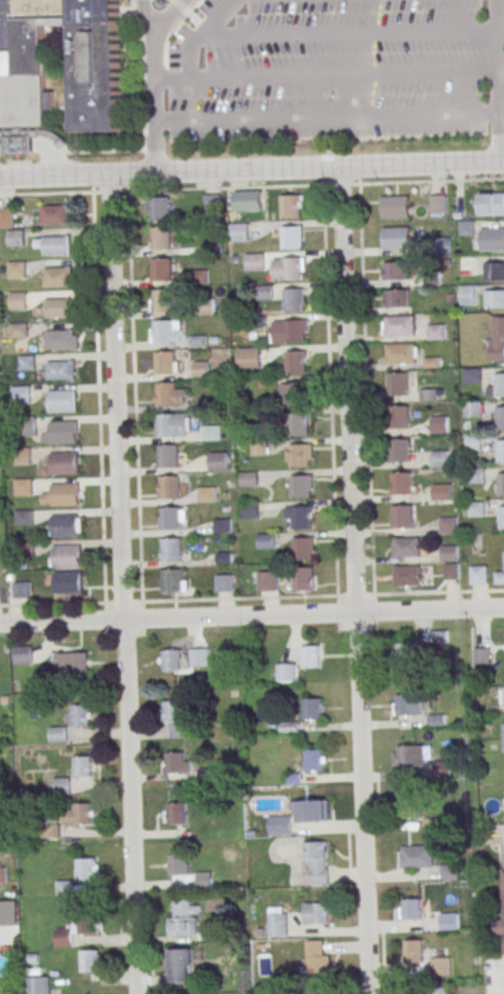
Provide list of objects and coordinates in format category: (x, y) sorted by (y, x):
building: (137, 1)
road: (148, 17)
road: (351, 29)
road: (192, 46)
road: (344, 73)
building: (97, 77)
road: (154, 80)
road: (499, 80)
road: (327, 117)
road: (18, 144)
building: (19, 144)
road: (2, 146)
road: (52, 153)
road: (252, 169)
road: (341, 183)
road: (225, 187)
road: (110, 191)
road: (46, 193)
building: (212, 202)
building: (239, 202)
building: (439, 203)
building: (492, 204)
building: (291, 206)
building: (396, 207)
building: (160, 208)
building: (55, 214)
building: (7, 218)
building: (467, 228)
building: (240, 231)
building: (161, 237)
building: (398, 237)
building: (16, 238)
building: (293, 238)
building: (493, 239)
building: (57, 245)
building: (442, 245)
building: (255, 261)
building: (468, 265)
building: (162, 268)
building: (290, 269)
building: (17, 270)
building: (397, 270)
building: (494, 271)
building: (58, 277)
building: (199, 277)
building: (266, 292)
building: (469, 295)
building: (396, 298)
building: (494, 299)
building: (18, 300)
building: (163, 300)
building: (295, 300)
building: (207, 306)
building: (58, 307)
building: (401, 326)
building: (19, 330)
building: (164, 331)
building: (297, 332)
building: (436, 332)
building: (496, 338)
building: (59, 339)
building: (198, 340)
building: (401, 353)
building: (250, 357)
building: (166, 362)
building: (28, 363)
building: (297, 363)
building: (202, 369)
building: (61, 370)
building: (473, 376)
building: (398, 384)
building: (500, 385)
building: (166, 393)
building: (297, 393)
building: (429, 394)
building: (22, 395)
building: (61, 400)
building: (474, 409)
building: (399, 417)
building: (500, 418)
building: (167, 424)
building: (440, 424)
building: (299, 425)
building: (27, 426)
building: (63, 431)
building: (212, 432)
building: (475, 441)
building: (260, 447)
building: (400, 450)
building: (501, 451)
building: (23, 455)
building: (169, 456)
building: (300, 456)
building: (441, 458)
building: (218, 461)
building: (63, 463)
building: (477, 475)
building: (249, 479)
building: (402, 484)
building: (501, 484)
building: (24, 487)
building: (170, 487)
building: (301, 487)
building: (441, 492)
building: (64, 494)
building: (206, 494)
building: (477, 508)
building: (250, 510)
building: (24, 517)
building: (403, 517)
building: (502, 517)
building: (171, 518)
building: (302, 518)
building: (448, 524)
building: (64, 525)
building: (223, 525)
building: (266, 541)
building: (406, 547)
building: (172, 549)
building: (304, 550)
building: (450, 553)
building: (67, 556)
building: (451, 571)
building: (479, 575)
building: (408, 576)
building: (499, 577)
building: (304, 578)
building: (172, 580)
road: (355, 580)
building: (268, 581)
building: (68, 583)
road: (120, 583)
building: (224, 583)
building: (22, 590)
road: (251, 597)
road: (251, 615)
building: (438, 636)
building: (23, 654)
building: (404, 654)
building: (481, 655)
building: (311, 656)
building: (199, 657)
building: (172, 660)
building: (73, 665)
building: (286, 672)
building: (501, 695)
building: (405, 705)
building: (312, 708)
building: (173, 711)
building: (80, 715)
building: (58, 734)
building: (407, 755)
building: (314, 760)
building: (175, 762)
building: (83, 766)
building: (442, 767)
building: (62, 786)
building: (409, 807)
building: (314, 811)
building: (177, 813)
building: (82, 814)
building: (281, 825)
building: (50, 831)
building: (417, 857)
building: (317, 861)
building: (179, 865)
building: (86, 870)
building: (450, 871)
building: (3, 874)
building: (203, 879)
building: (64, 887)
building: (503, 892)
building: (413, 908)
building: (317, 913)
building: (452, 921)
building: (88, 923)
building: (278, 925)
building: (184, 926)
building: (500, 927)
building: (413, 951)
building: (90, 961)
building: (318, 962)
building: (182, 966)
building: (441, 966)
road: (499, 980)
building: (39, 985)

